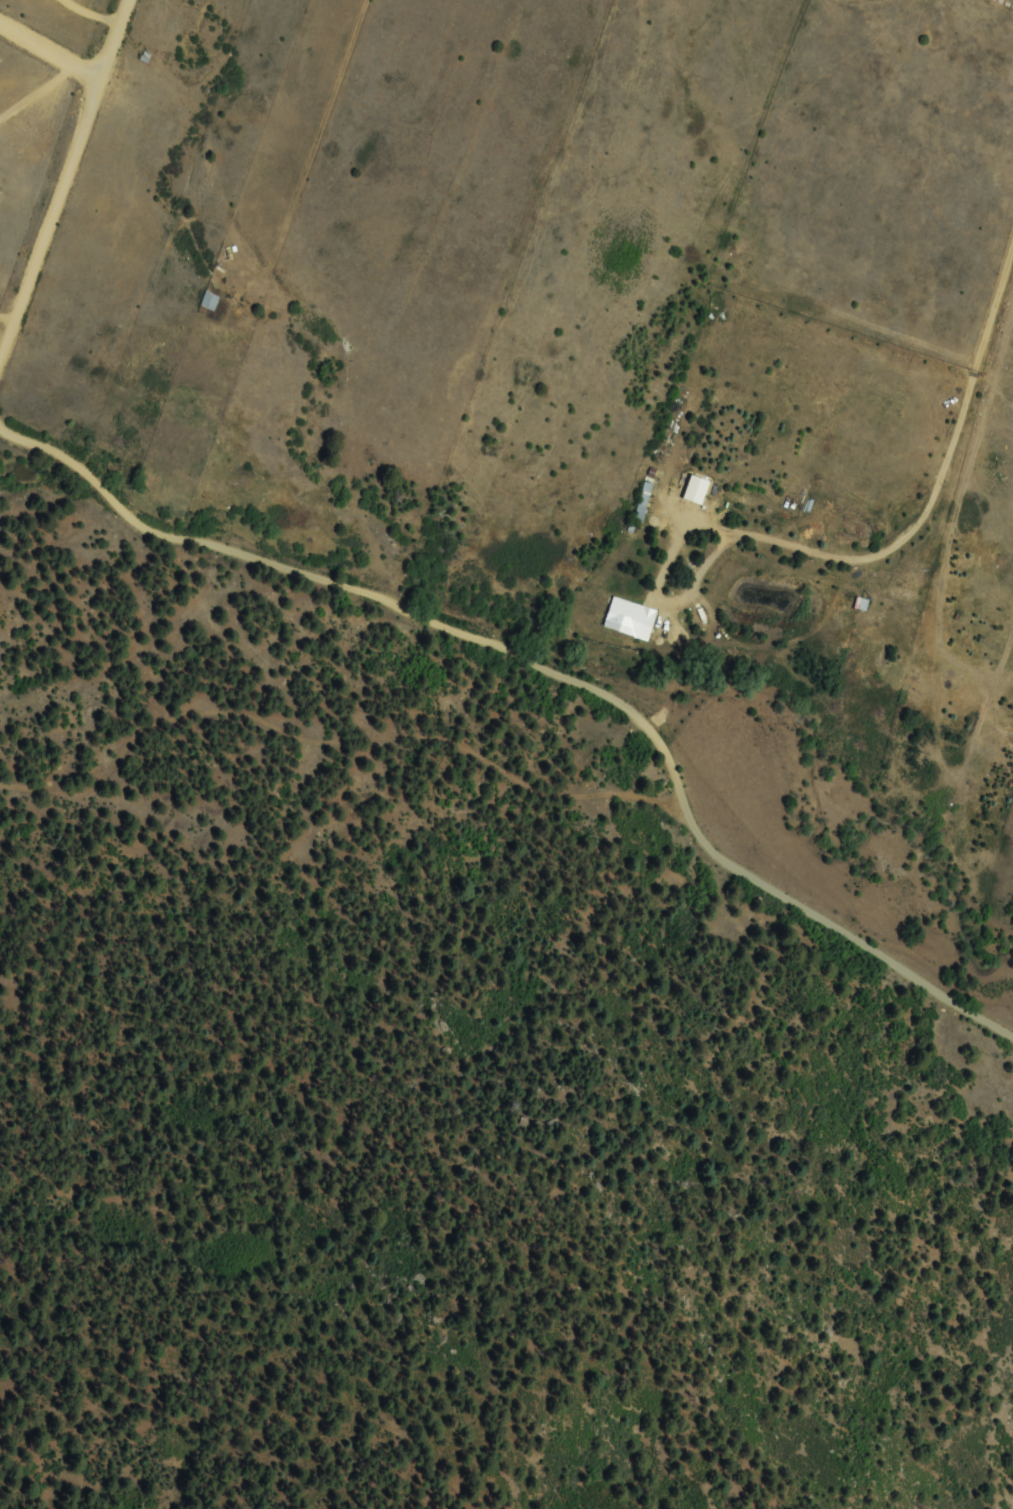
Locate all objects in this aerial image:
road: (77, 43)
road: (941, 127)
building: (210, 302)
building: (644, 504)
road: (386, 595)
building: (634, 619)

